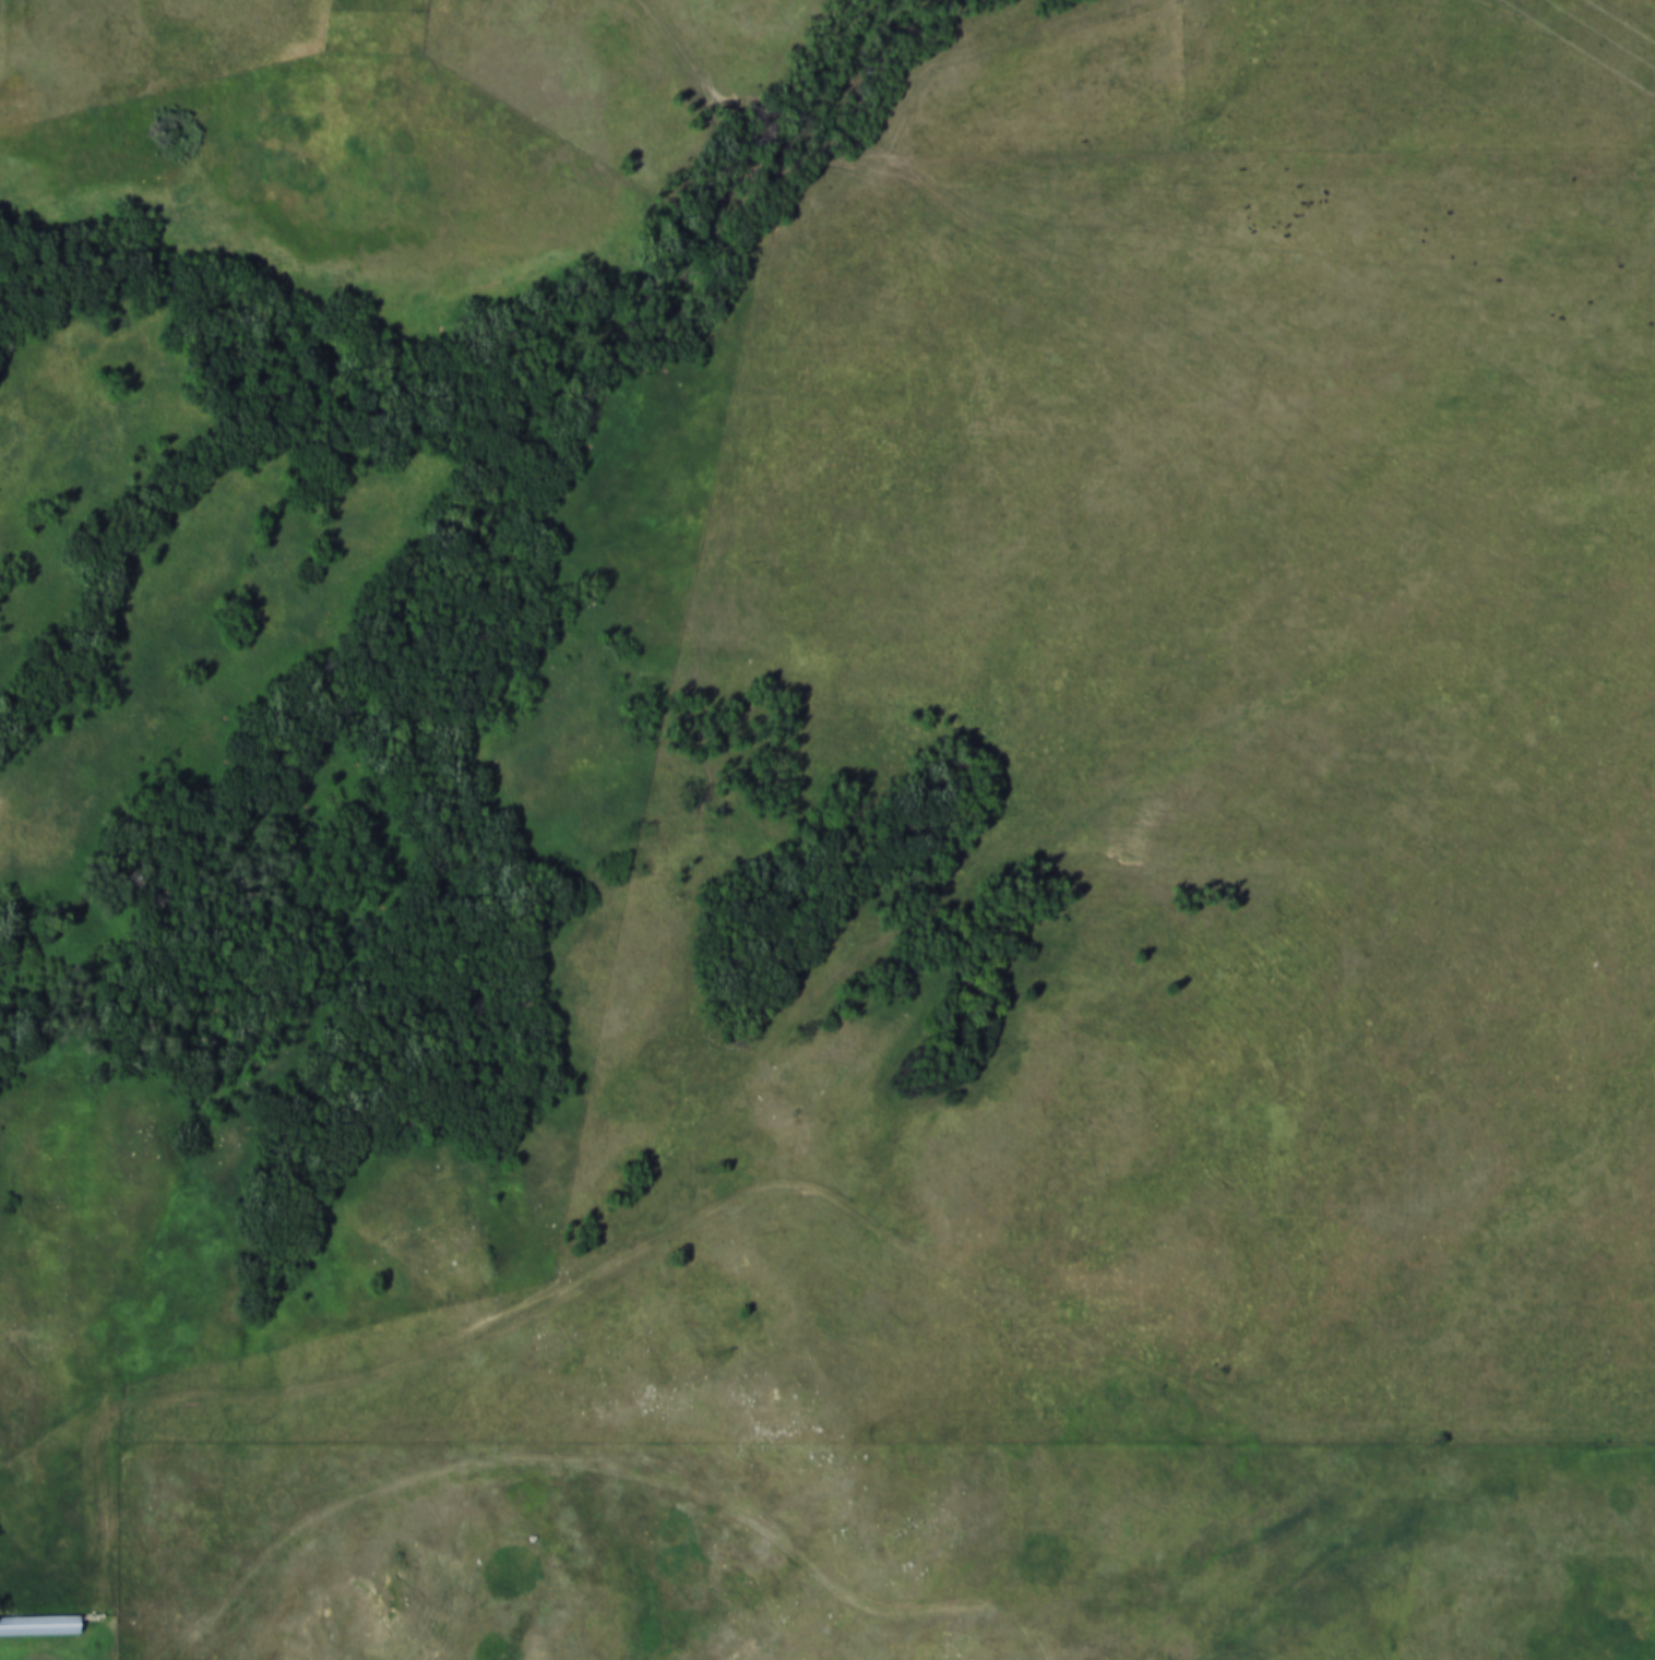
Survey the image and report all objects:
road: (0, 11)
road: (867, 1608)
building: (69, 1624)

